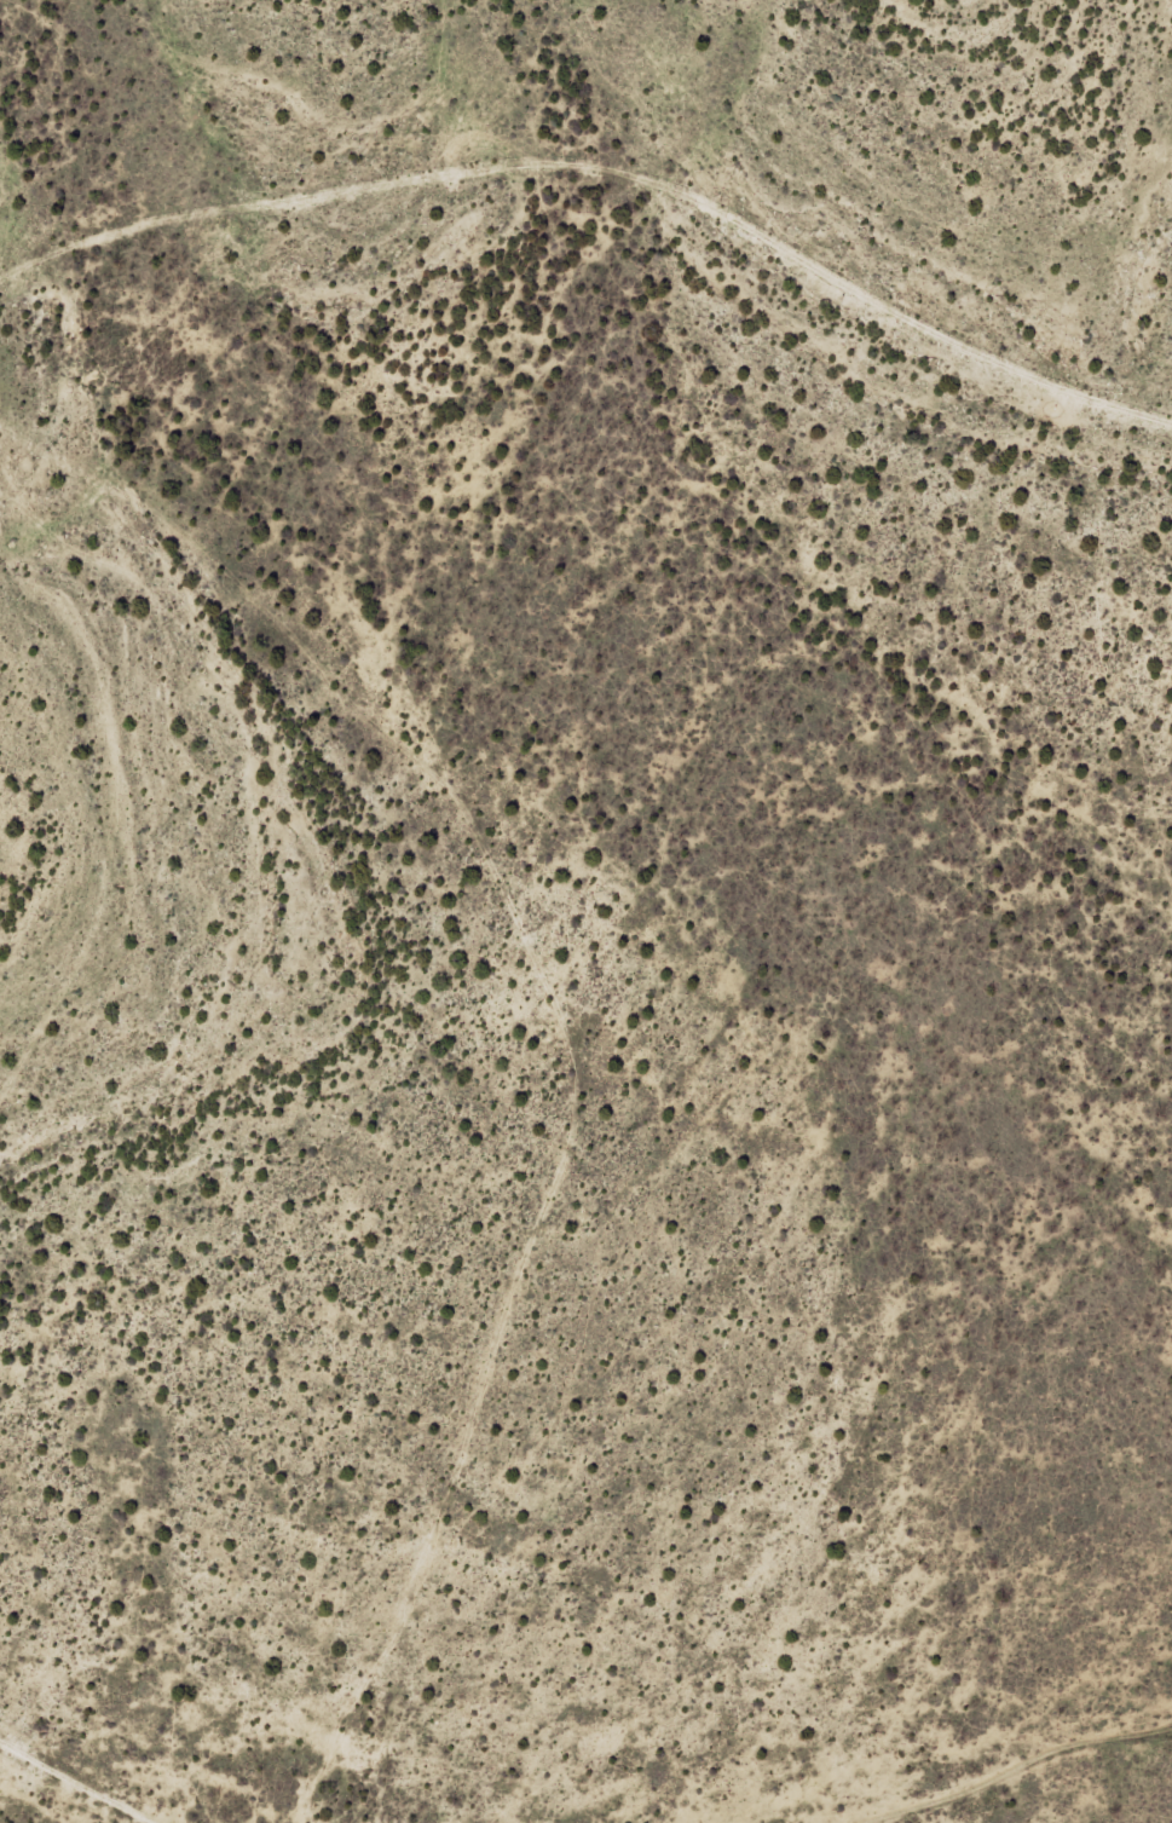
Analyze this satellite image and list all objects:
road: (1008, 1763)
road: (77, 1781)

